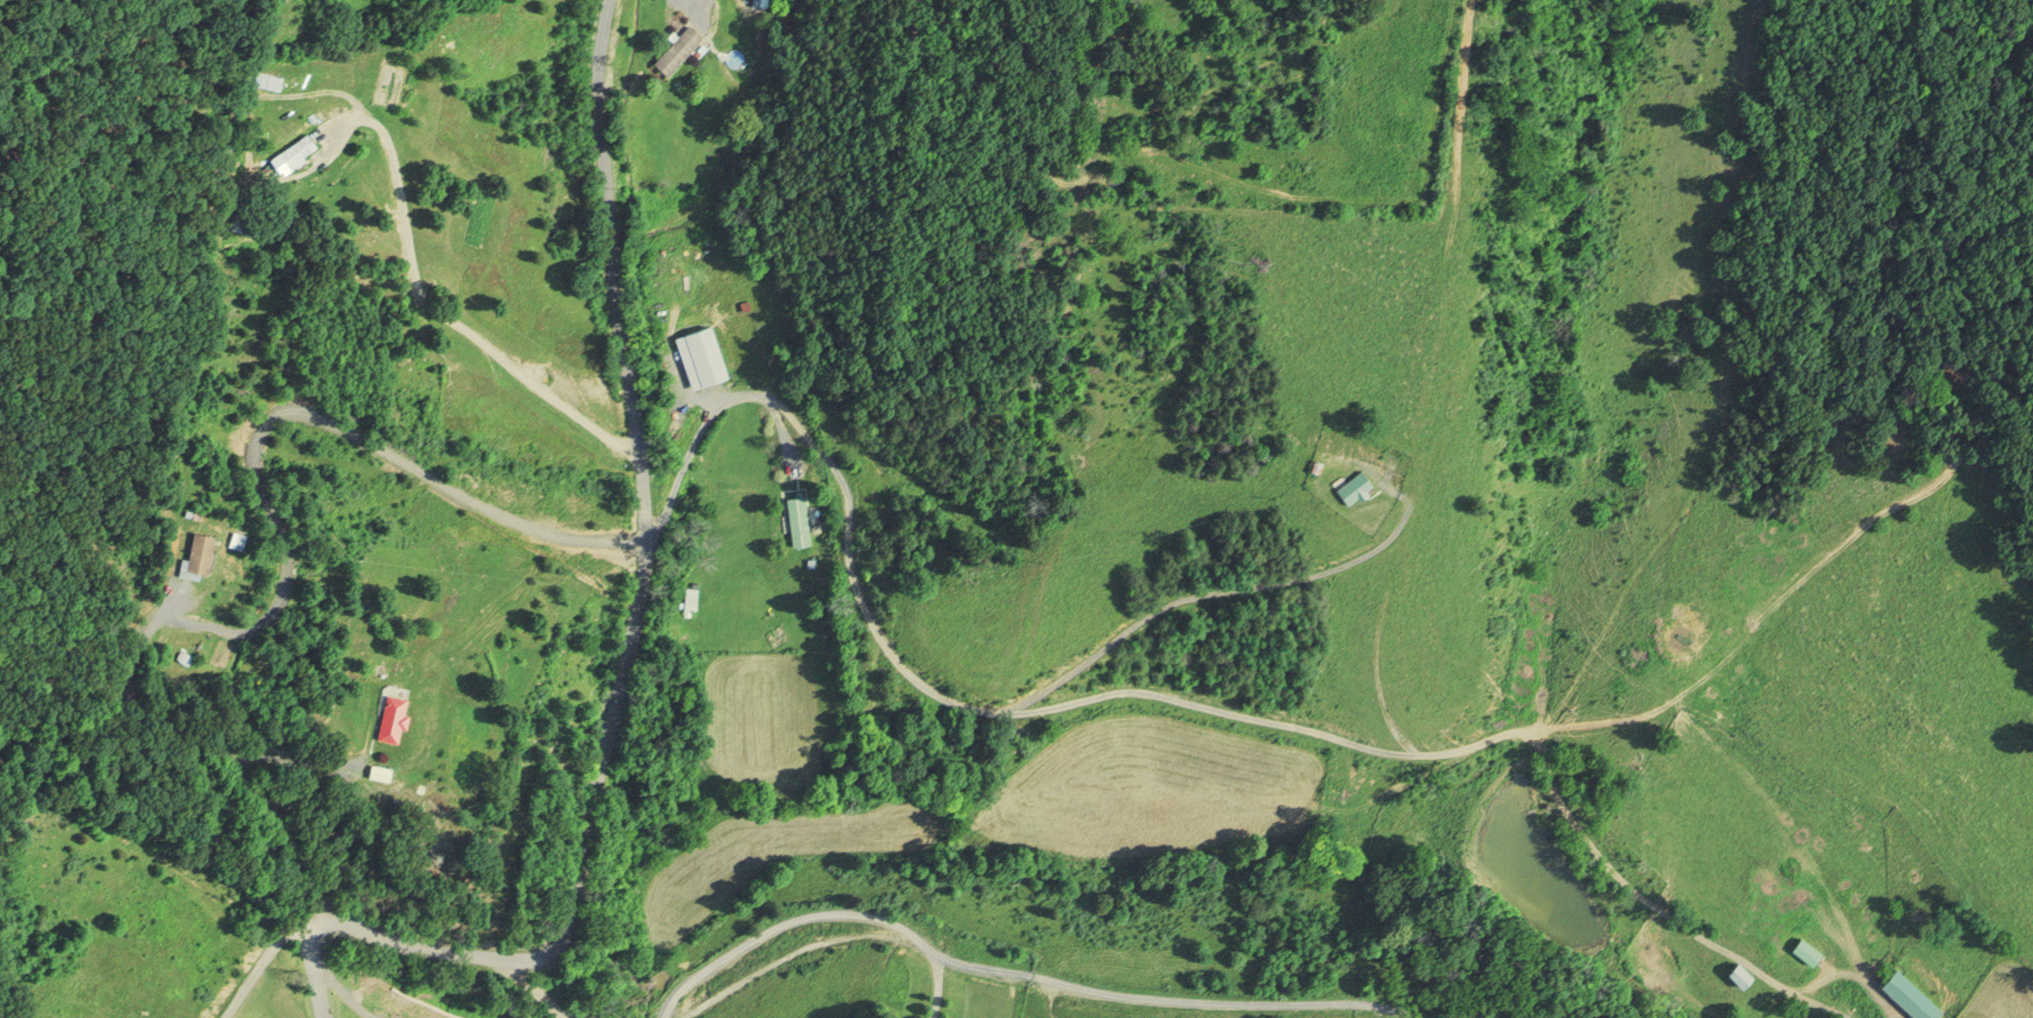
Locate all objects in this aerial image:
building: (678, 50)
building: (268, 81)
building: (299, 152)
building: (240, 222)
building: (701, 357)
building: (1356, 488)
building: (798, 521)
building: (199, 556)
building: (692, 591)
road: (637, 615)
building: (394, 718)
building: (1807, 951)
building: (1742, 975)
building: (1911, 996)

